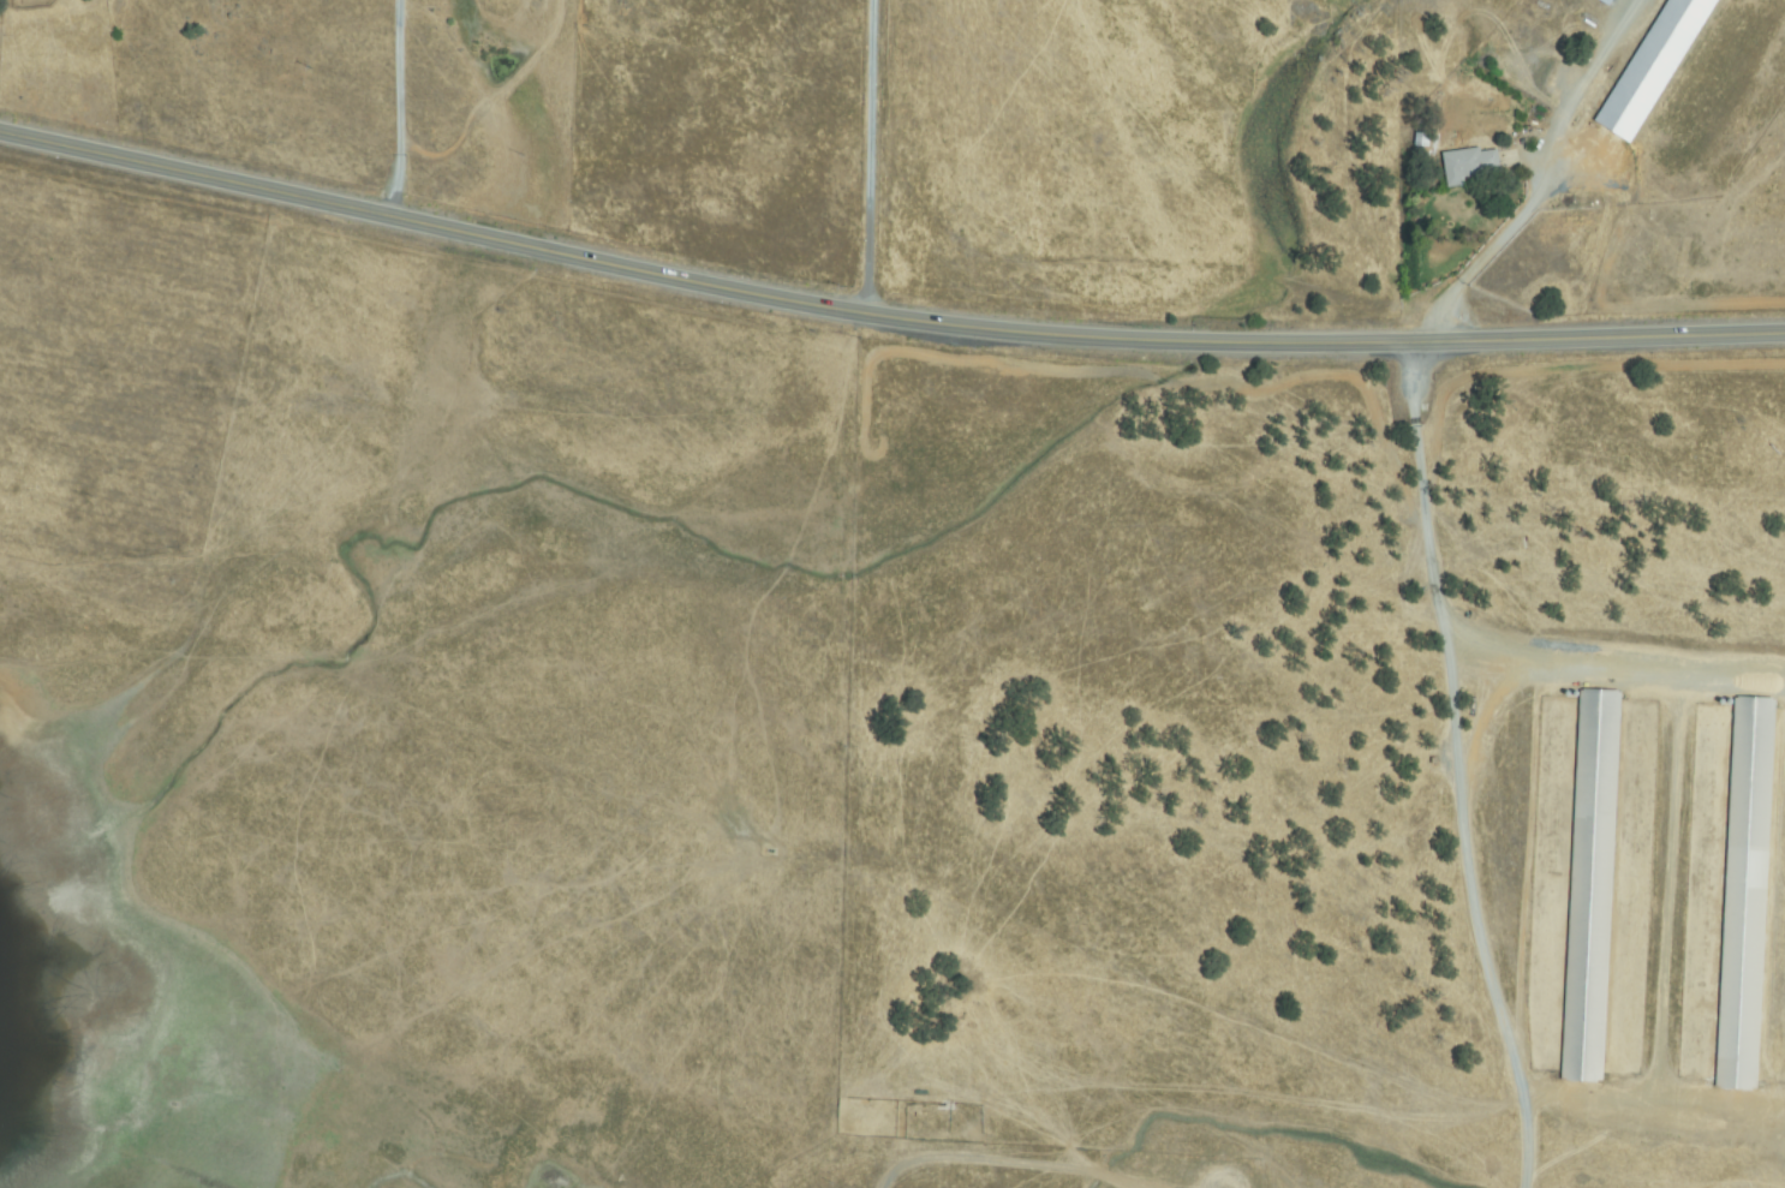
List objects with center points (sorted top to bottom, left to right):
building: (1607, 1)
building: (1617, 1)
building: (1653, 65)
road: (407, 109)
road: (877, 157)
building: (1469, 166)
road: (883, 315)
building: (1590, 885)
building: (1745, 895)

